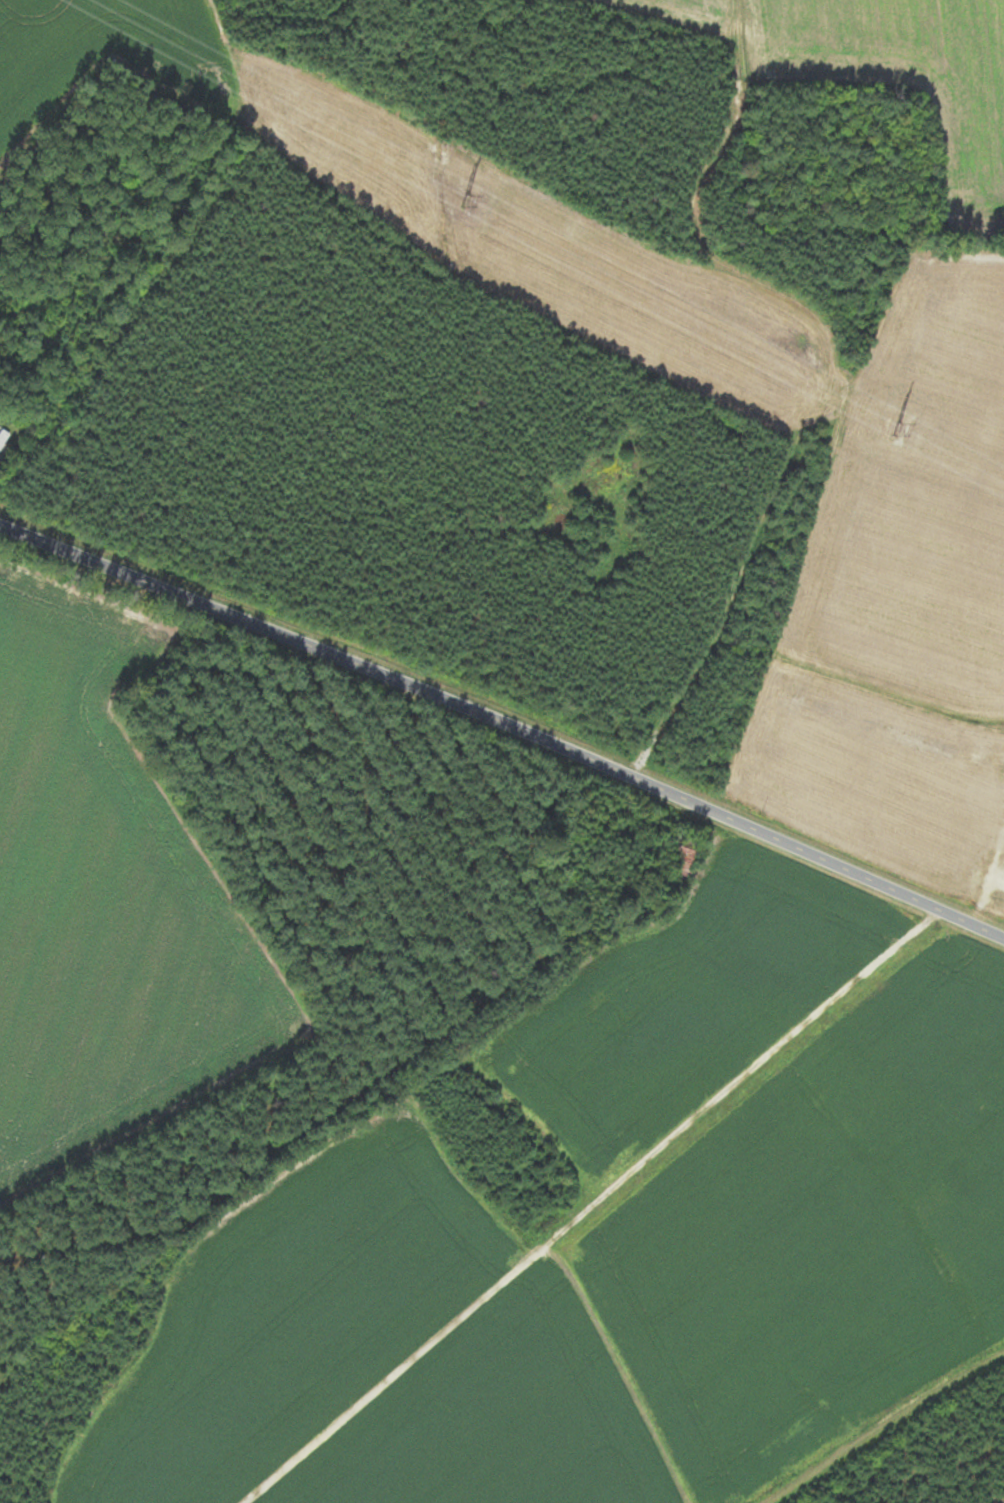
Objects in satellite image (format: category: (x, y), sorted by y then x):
power tower: (464, 201)
power tower: (894, 430)
building: (1, 436)
road: (505, 723)
building: (1001, 773)
building: (1001, 851)
building: (673, 853)
road: (602, 1214)

